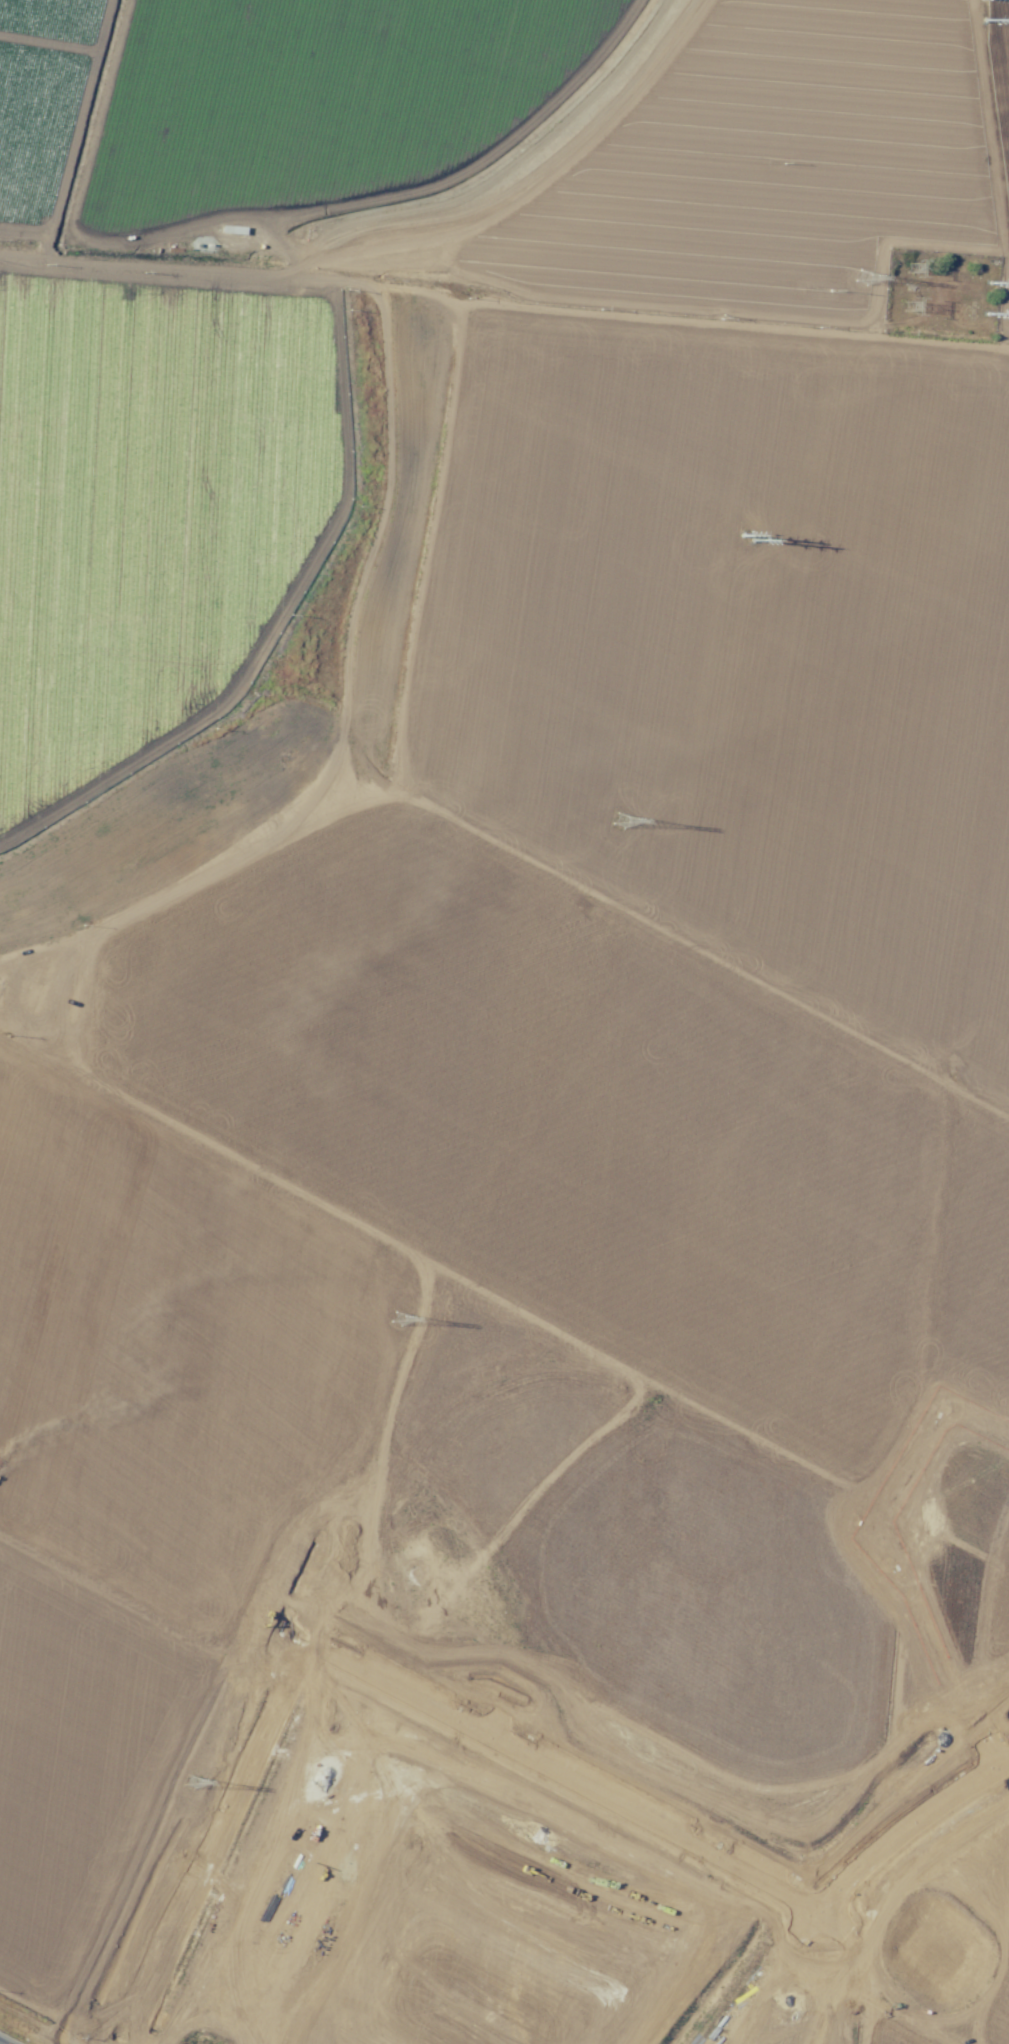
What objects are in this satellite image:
power tower: (910, 267)
power tower: (860, 276)
road: (412, 289)
power tower: (907, 305)
power tower: (618, 822)
crop: (521, 1043)
power tower: (399, 1320)
power tower: (191, 1783)

